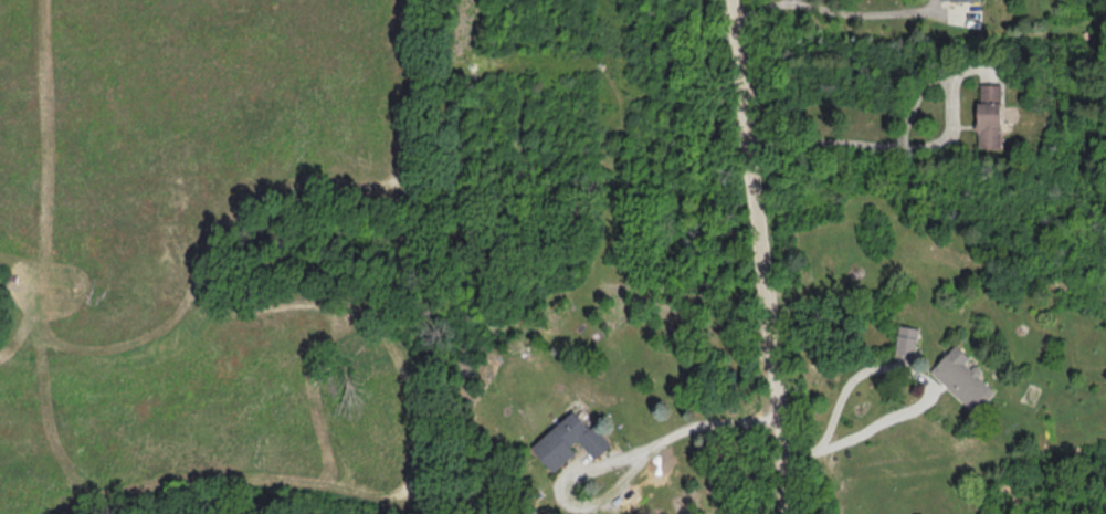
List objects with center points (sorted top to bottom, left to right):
building: (962, 0)
road: (792, 1)
road: (765, 7)
road: (863, 14)
building: (991, 117)
road: (847, 143)
road: (761, 256)
building: (908, 342)
building: (966, 380)
road: (850, 397)
road: (854, 437)
building: (570, 440)
road: (603, 464)
road: (573, 469)

